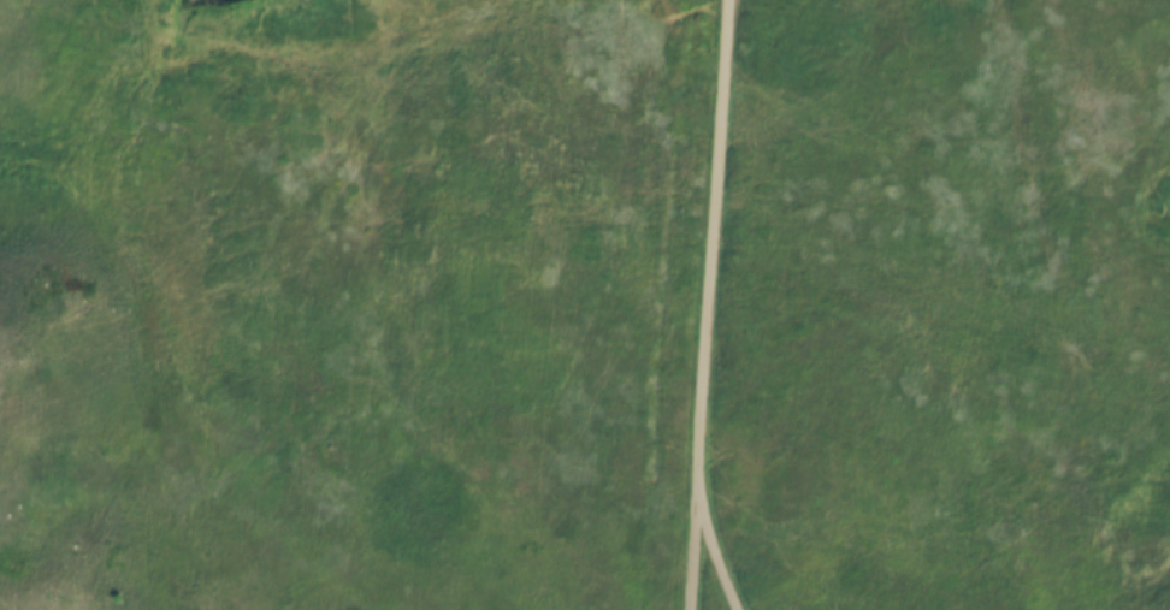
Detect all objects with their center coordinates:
road: (709, 250)
road: (695, 504)

